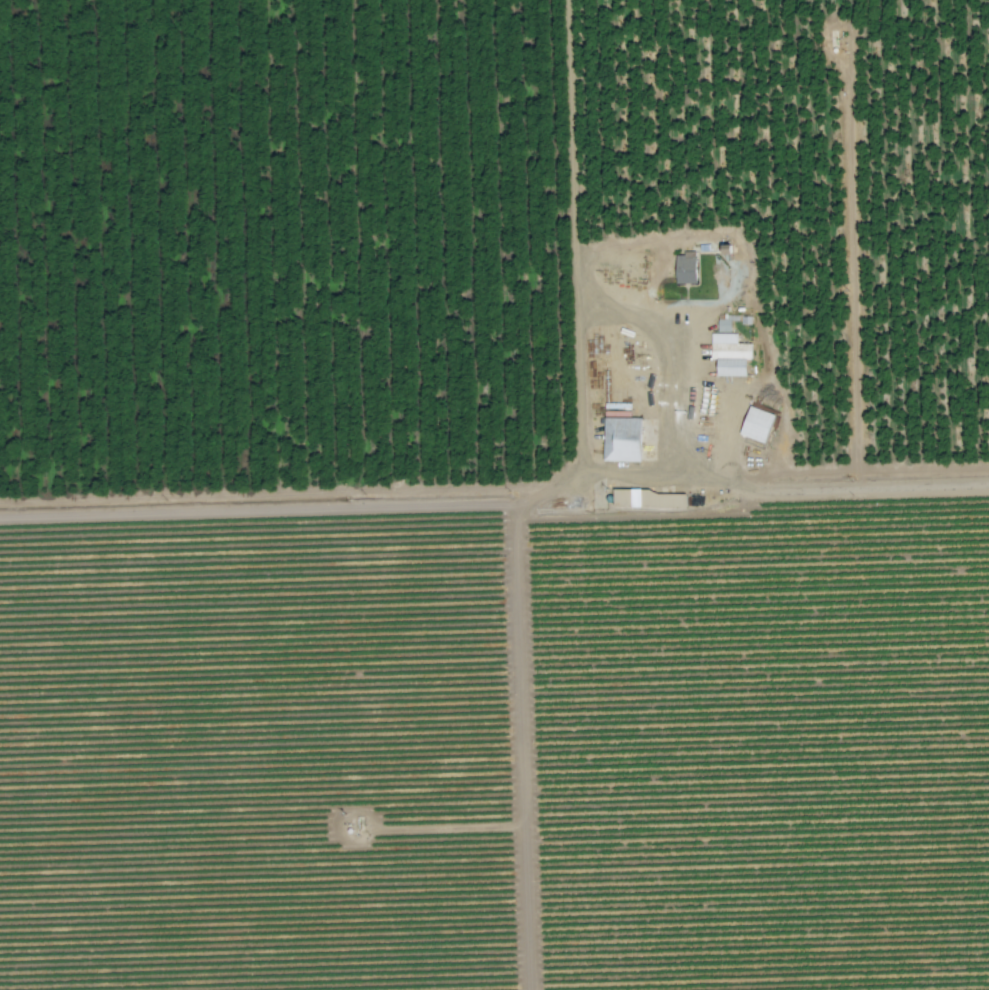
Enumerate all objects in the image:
road: (573, 247)
road: (854, 262)
building: (685, 271)
building: (730, 365)
road: (676, 392)
building: (756, 426)
building: (621, 441)
road: (494, 498)

